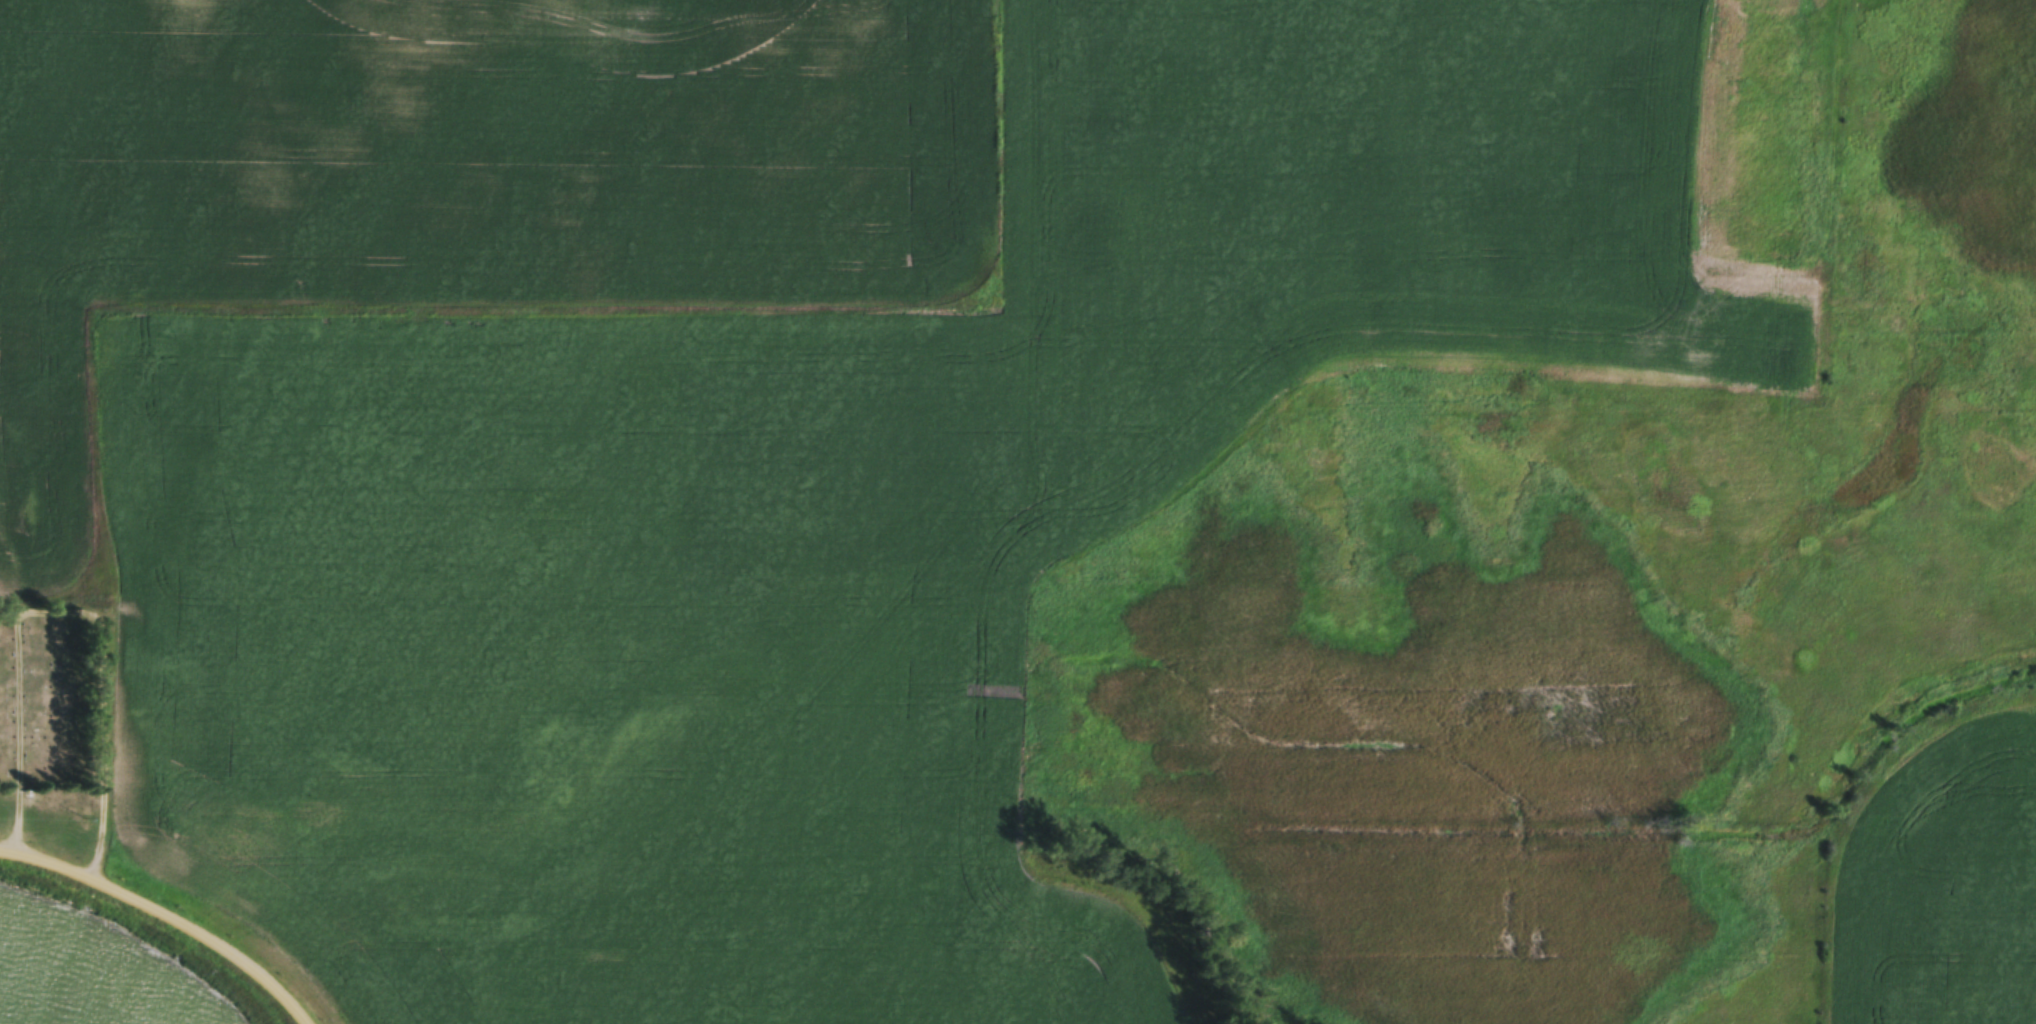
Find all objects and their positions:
road: (72, 614)
park: (53, 699)
road: (163, 919)

